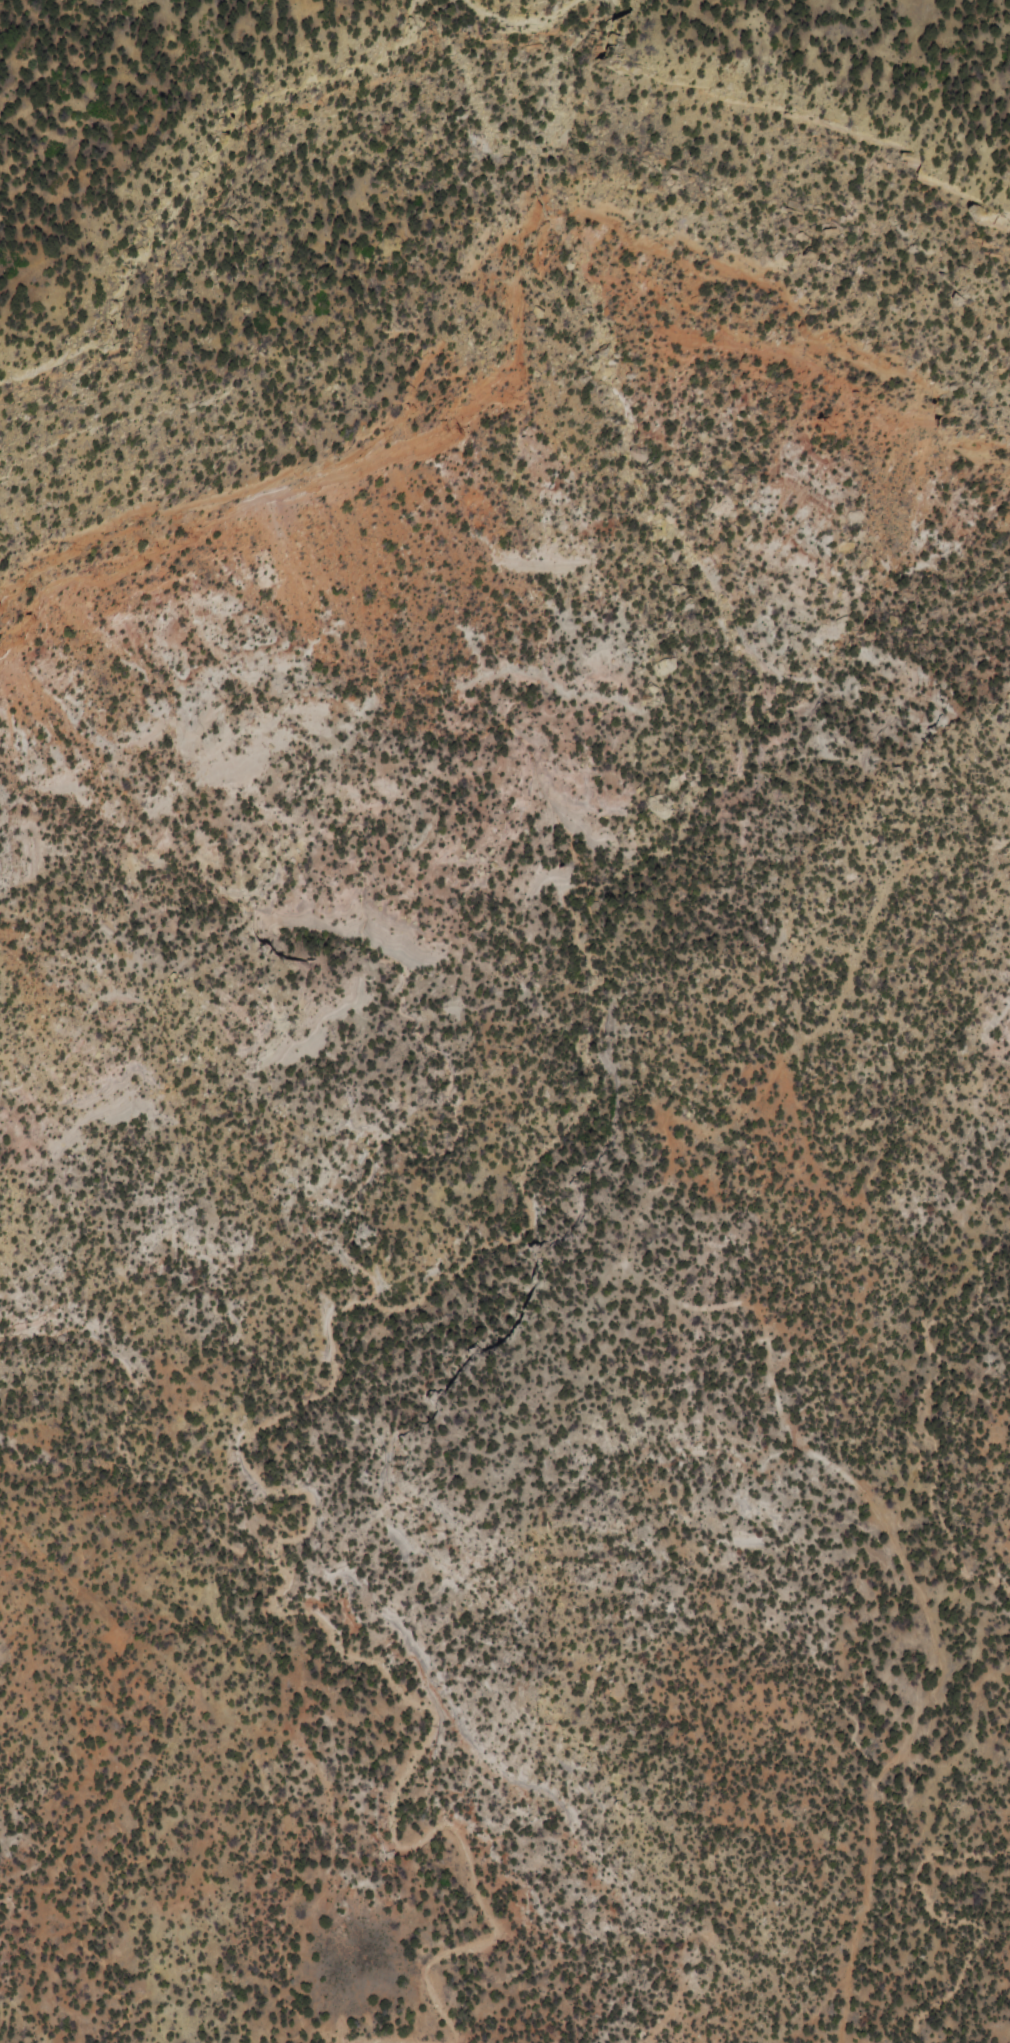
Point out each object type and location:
road: (705, 1385)
road: (236, 1760)

